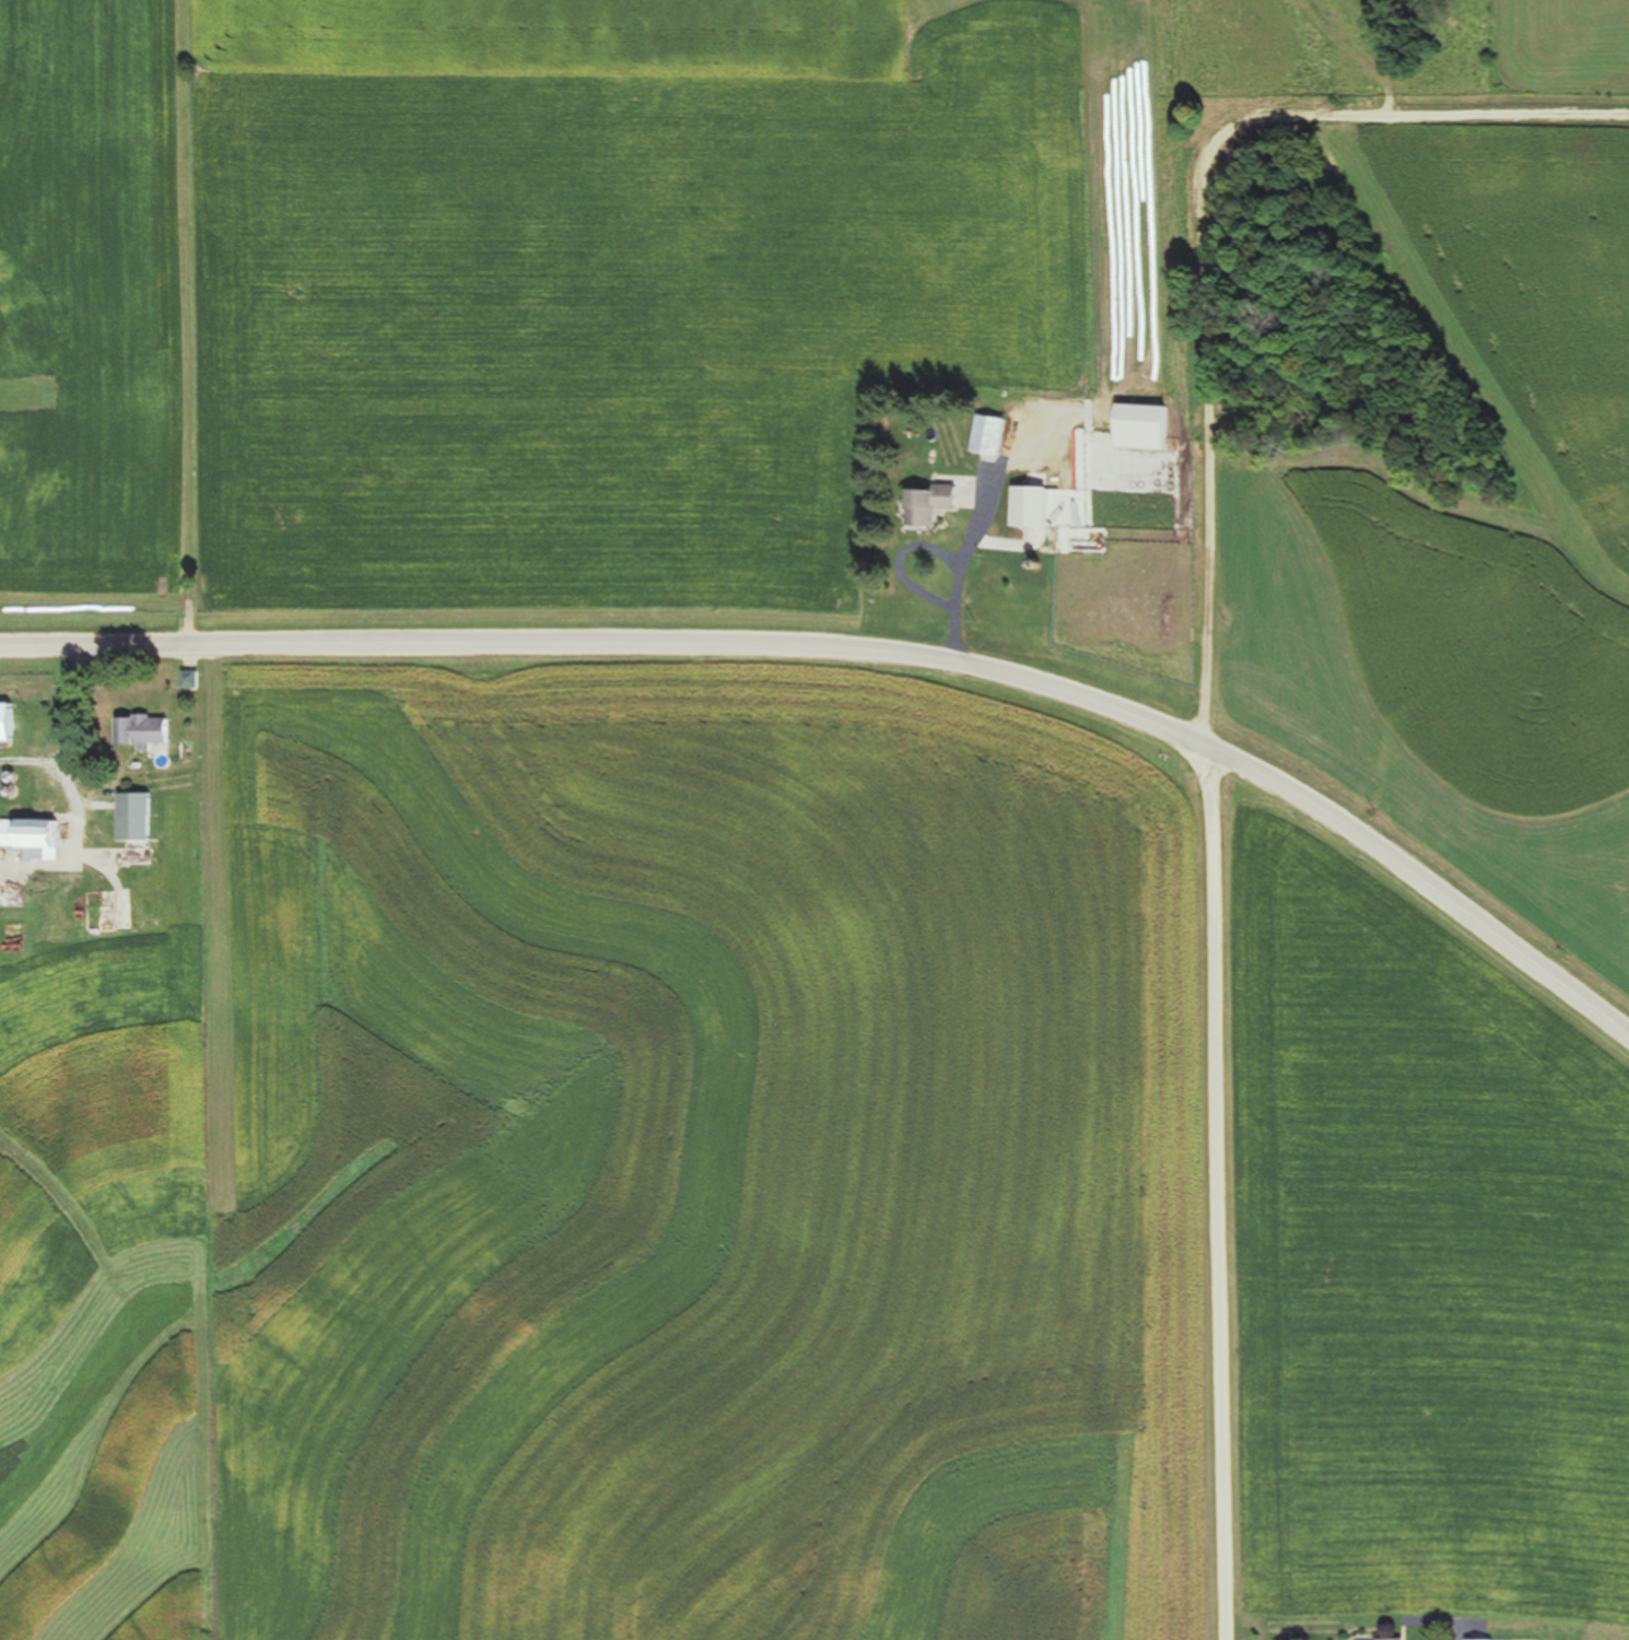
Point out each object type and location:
building: (993, 435)
building: (934, 505)
road: (610, 645)
building: (194, 680)
building: (148, 730)
building: (140, 817)
building: (38, 839)
road: (1420, 876)
road: (1211, 879)
building: (14, 899)
building: (1399, 1639)

